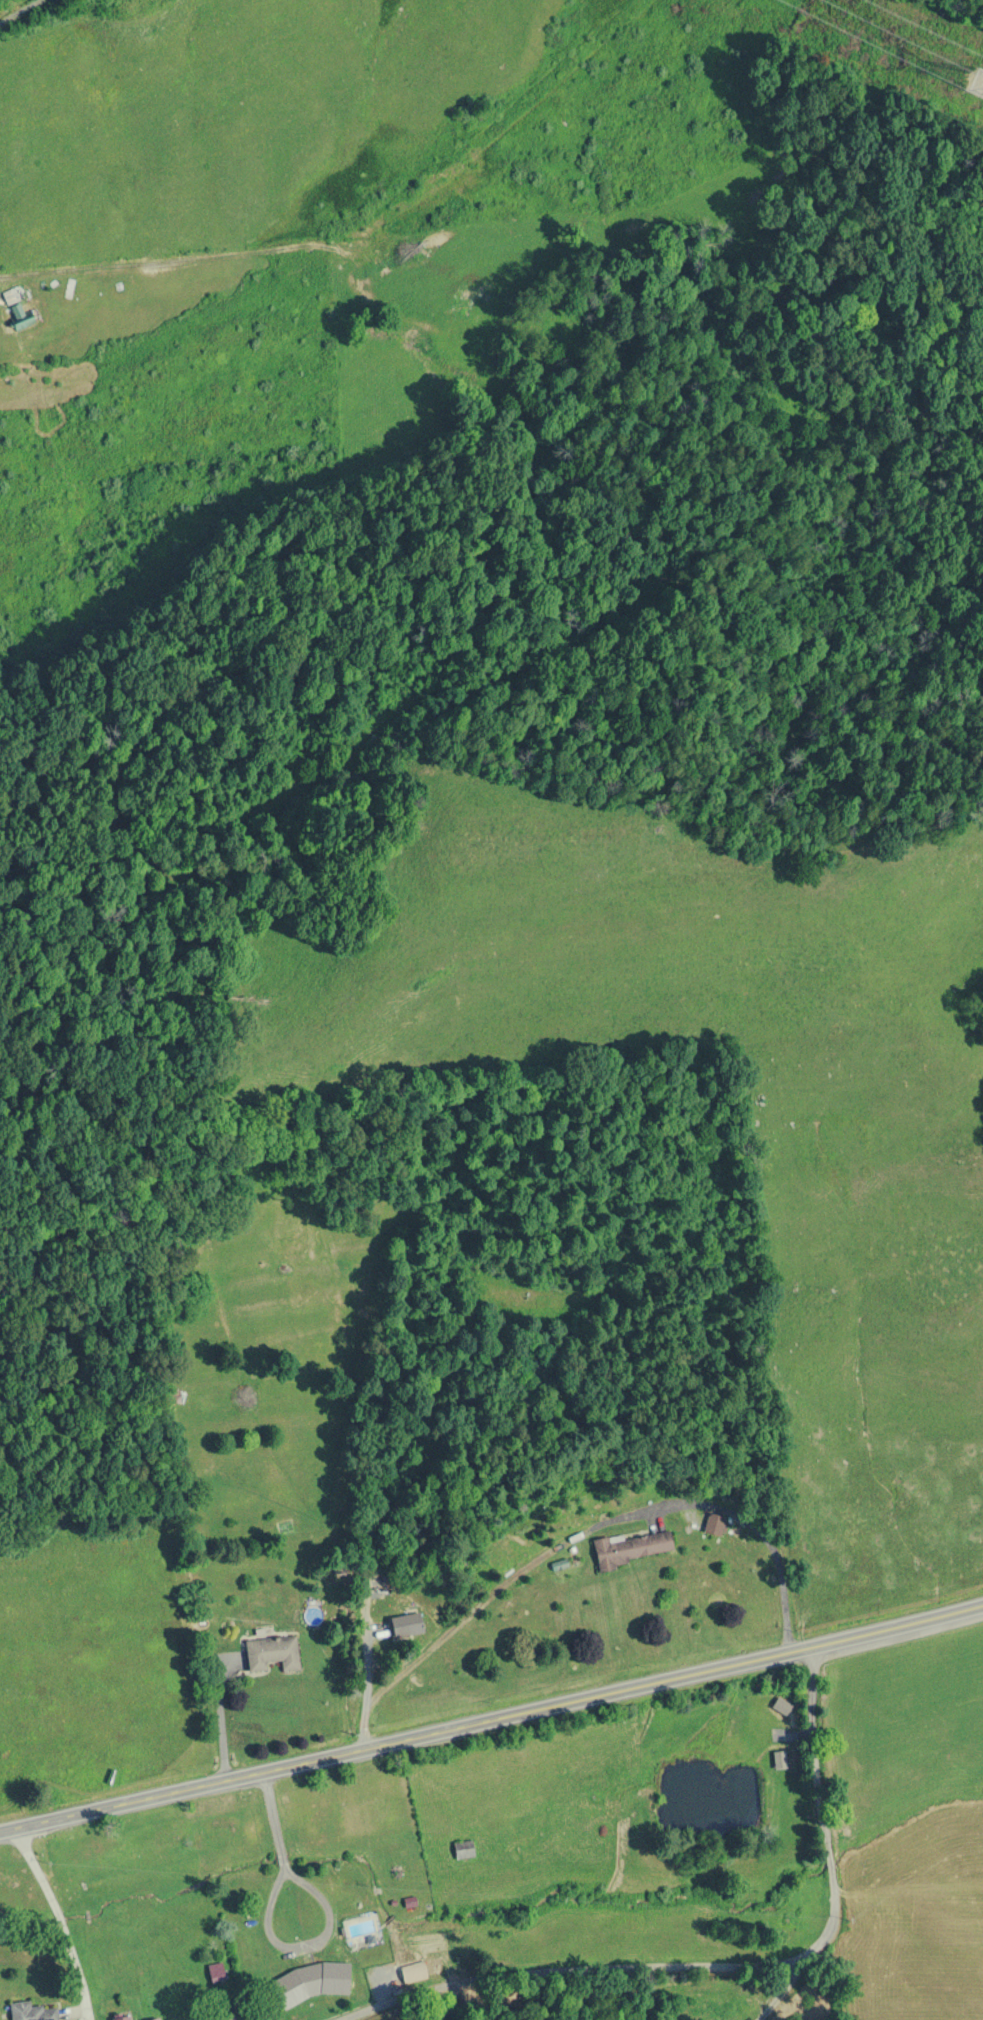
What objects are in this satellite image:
road: (43, 22)
power tower: (980, 92)
building: (22, 320)
building: (692, 1524)
building: (632, 1549)
building: (406, 1625)
building: (272, 1654)
road: (492, 1721)
building: (779, 1760)
road: (821, 1776)
building: (464, 1849)
road: (185, 1907)
building: (312, 1982)
building: (33, 2011)
building: (124, 2017)
building: (155, 2019)

